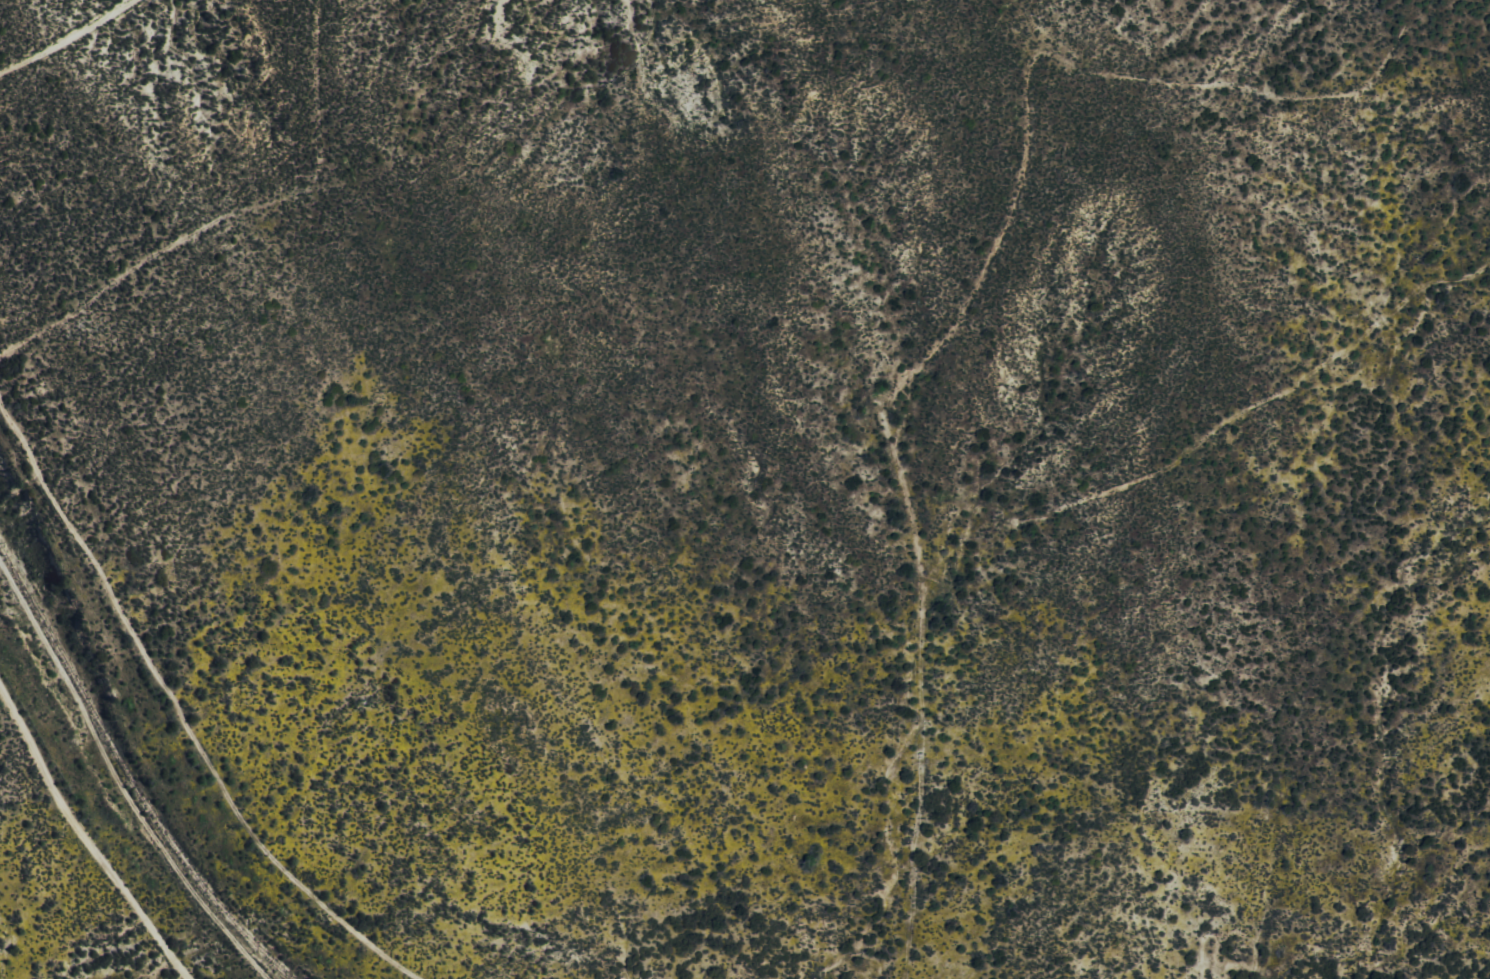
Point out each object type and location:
railway: (134, 782)

